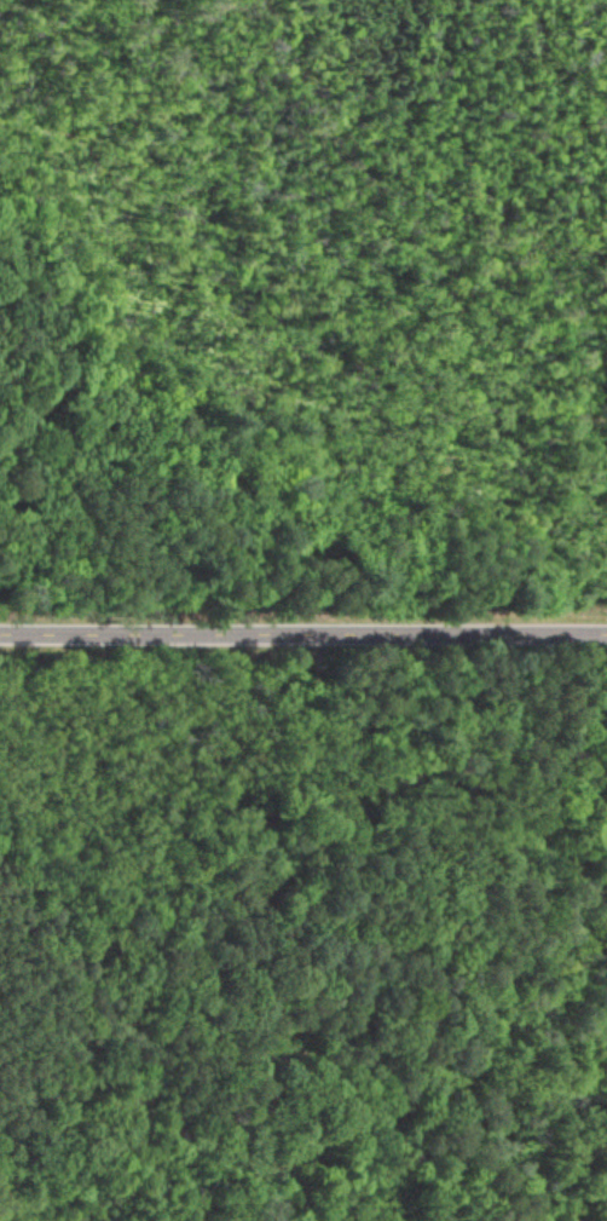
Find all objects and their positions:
road: (303, 630)

